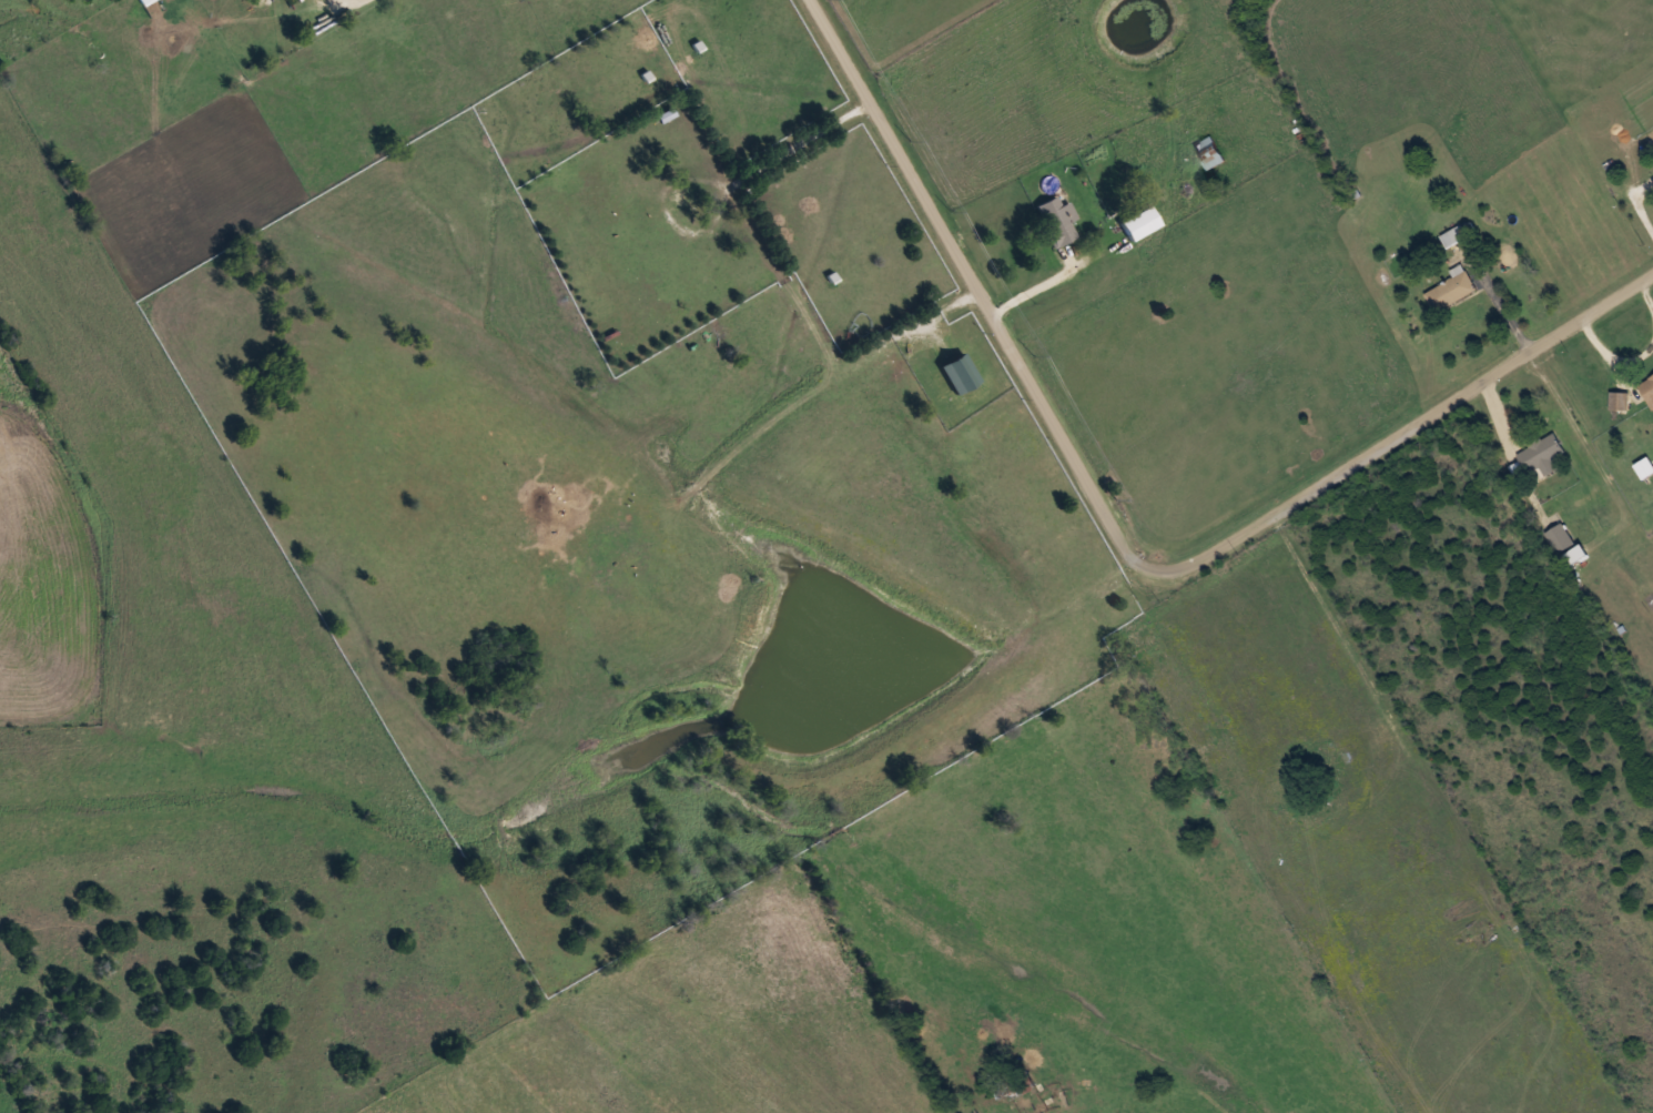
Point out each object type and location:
building: (145, 1)
building: (1208, 152)
building: (1056, 221)
building: (1138, 223)
building: (1453, 235)
building: (1451, 290)
building: (1647, 389)
building: (1620, 401)
building: (1542, 454)
building: (1560, 537)
road: (1119, 545)
building: (1020, 1084)

